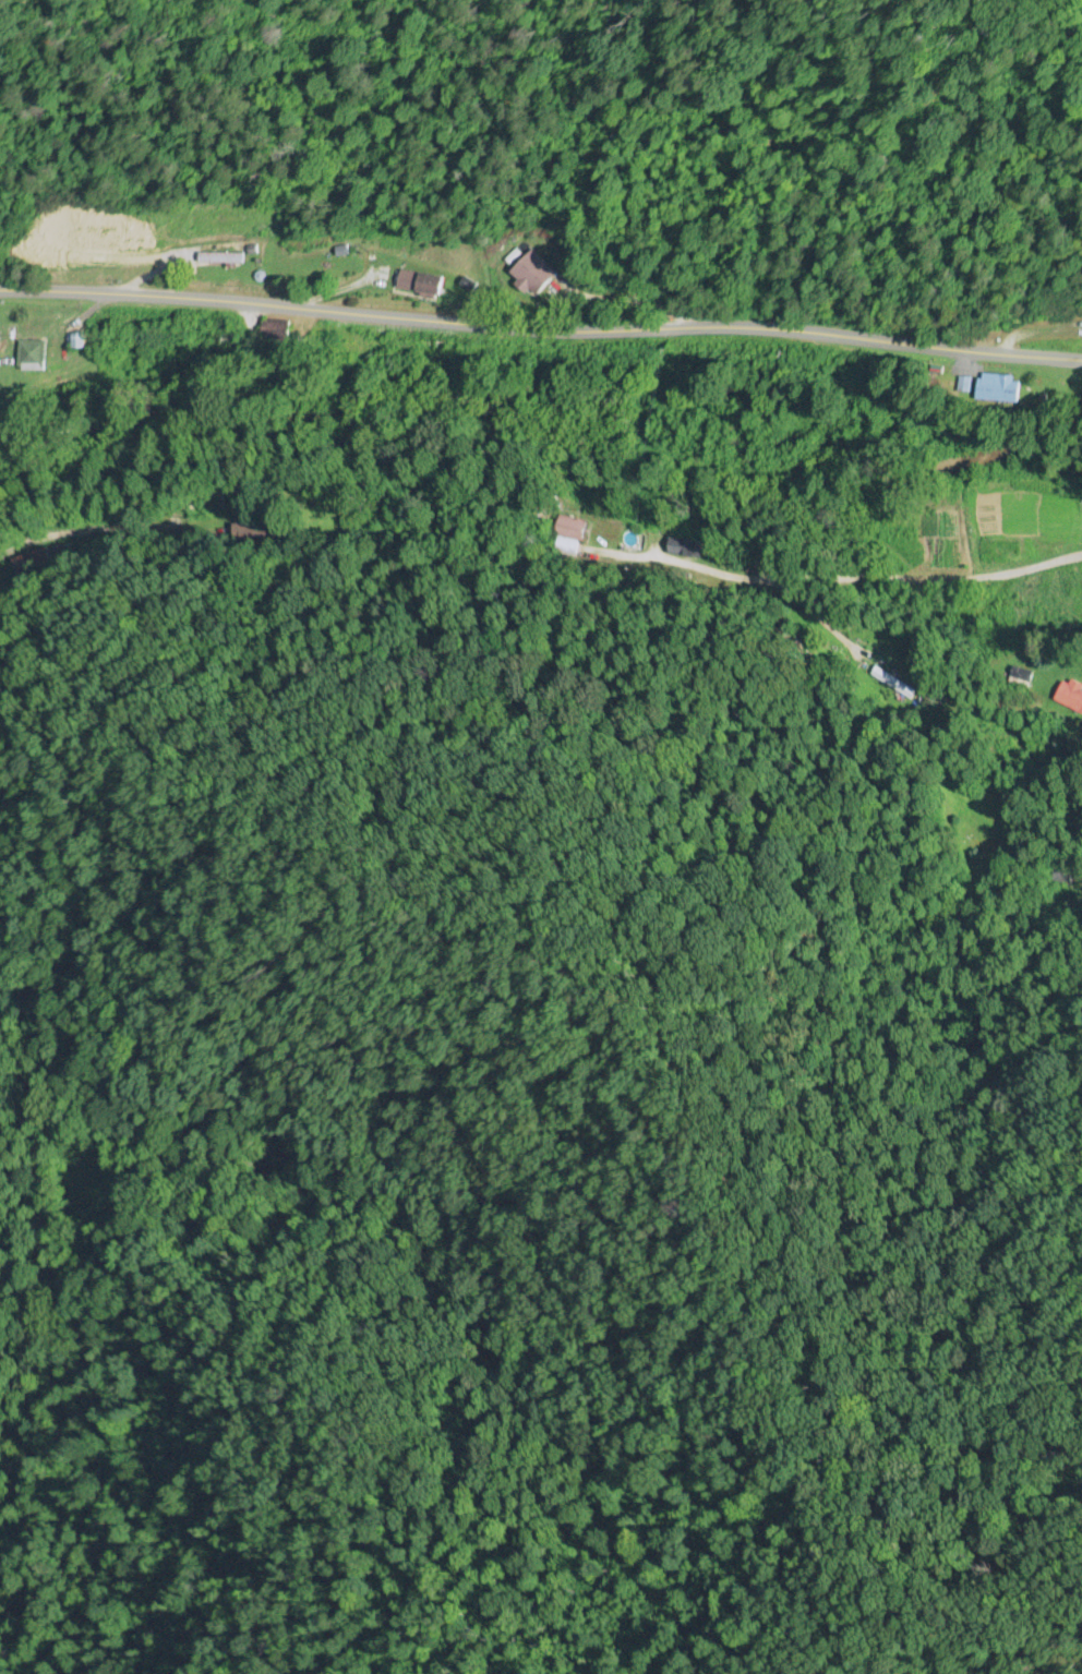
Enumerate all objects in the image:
road: (540, 326)

